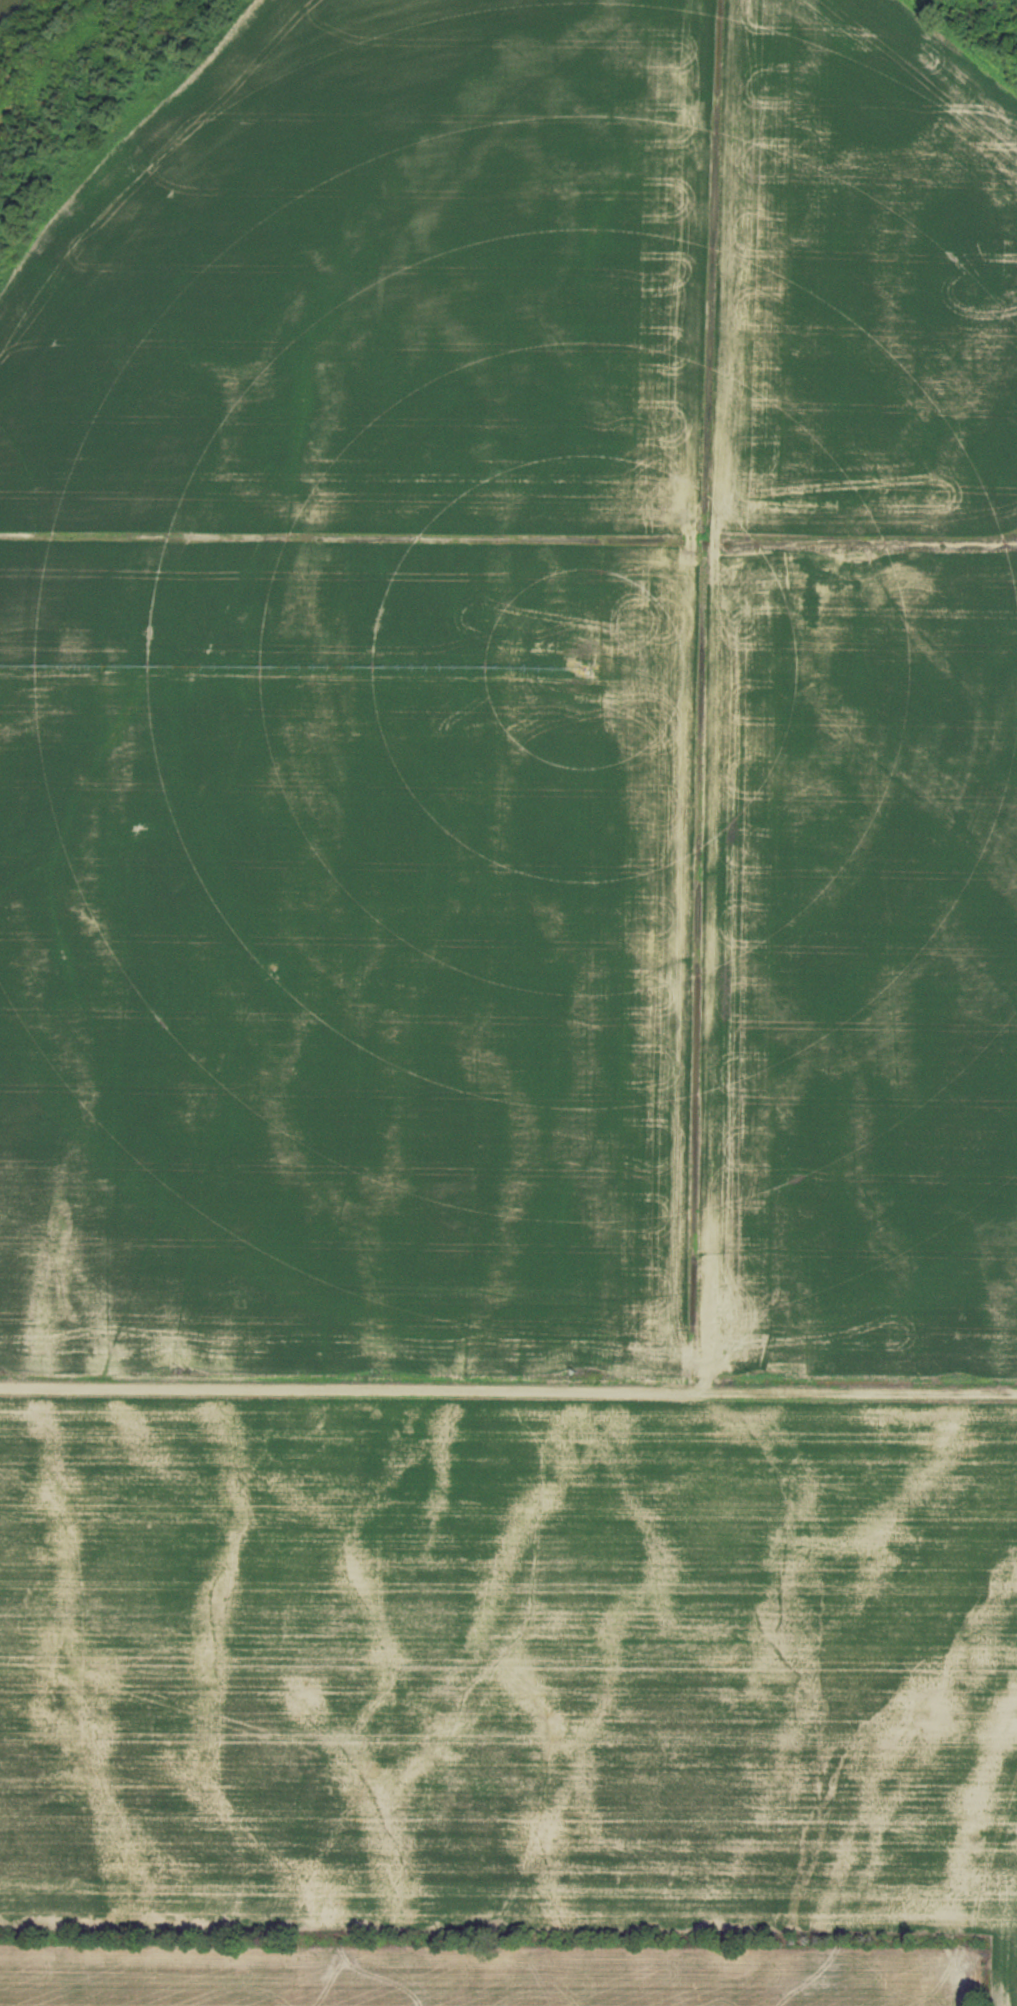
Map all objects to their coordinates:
road: (508, 1388)

